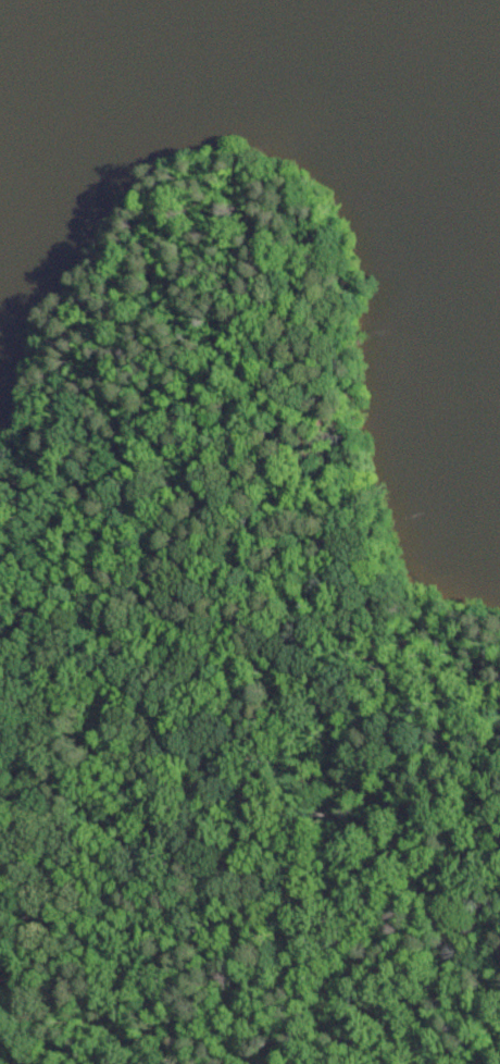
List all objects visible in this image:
road: (271, 438)

